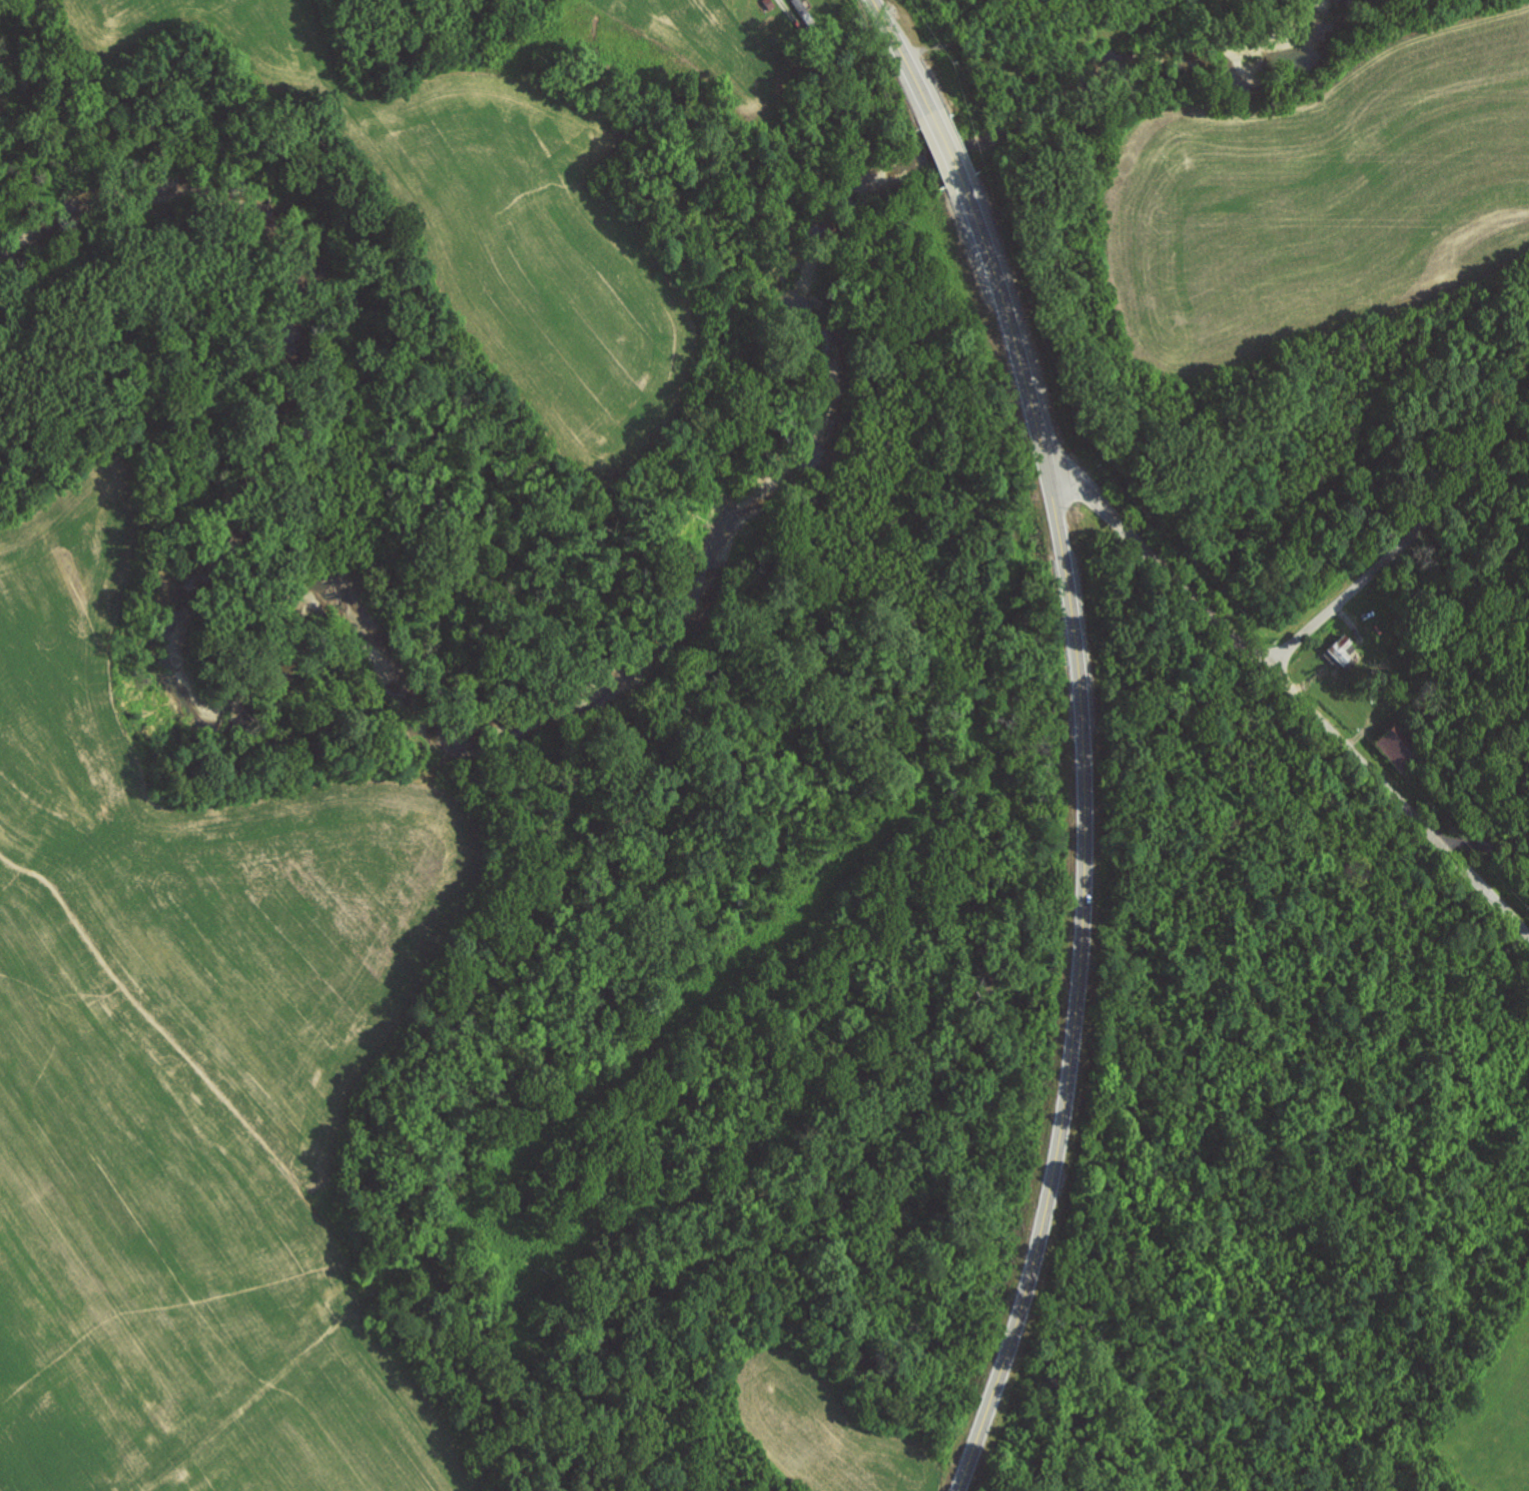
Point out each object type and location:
road: (901, 56)
road: (945, 147)
road: (1421, 530)
building: (1336, 651)
road: (1296, 699)
road: (1083, 836)
road: (1502, 870)
crop: (190, 1076)

